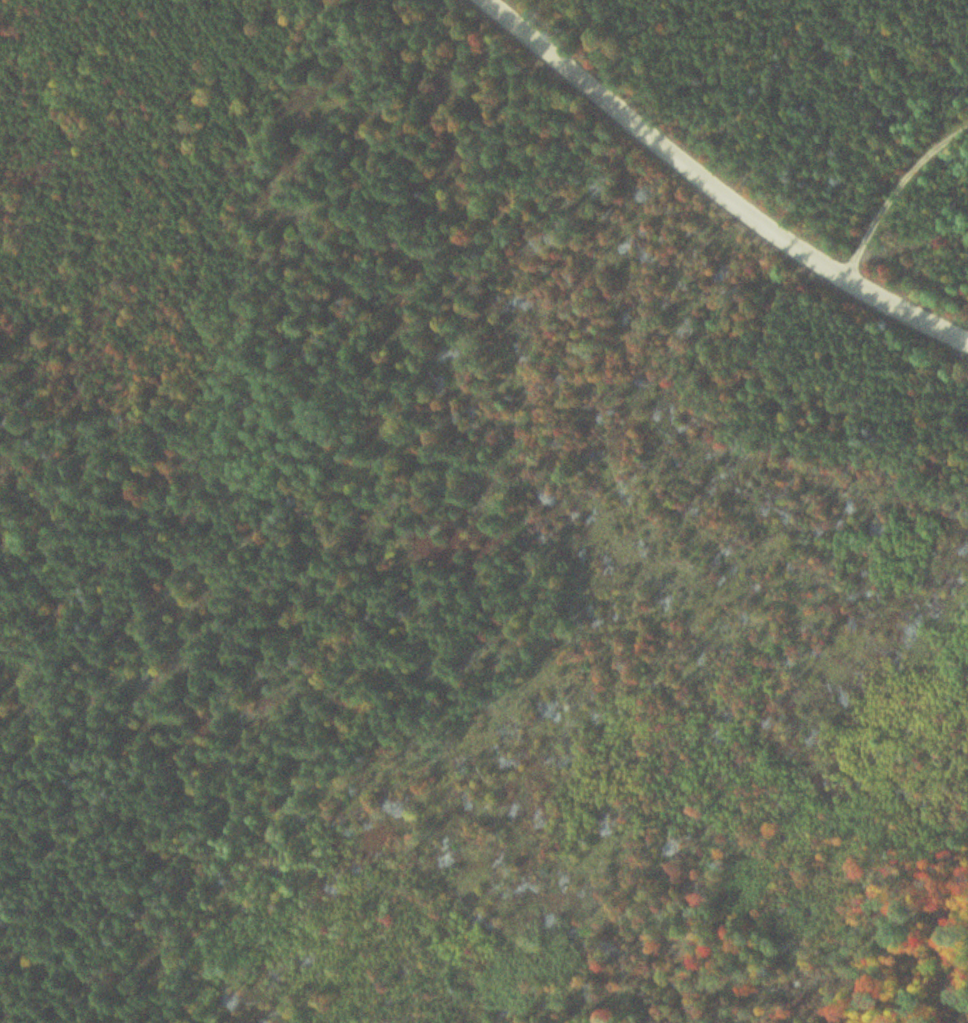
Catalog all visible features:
road: (708, 185)

